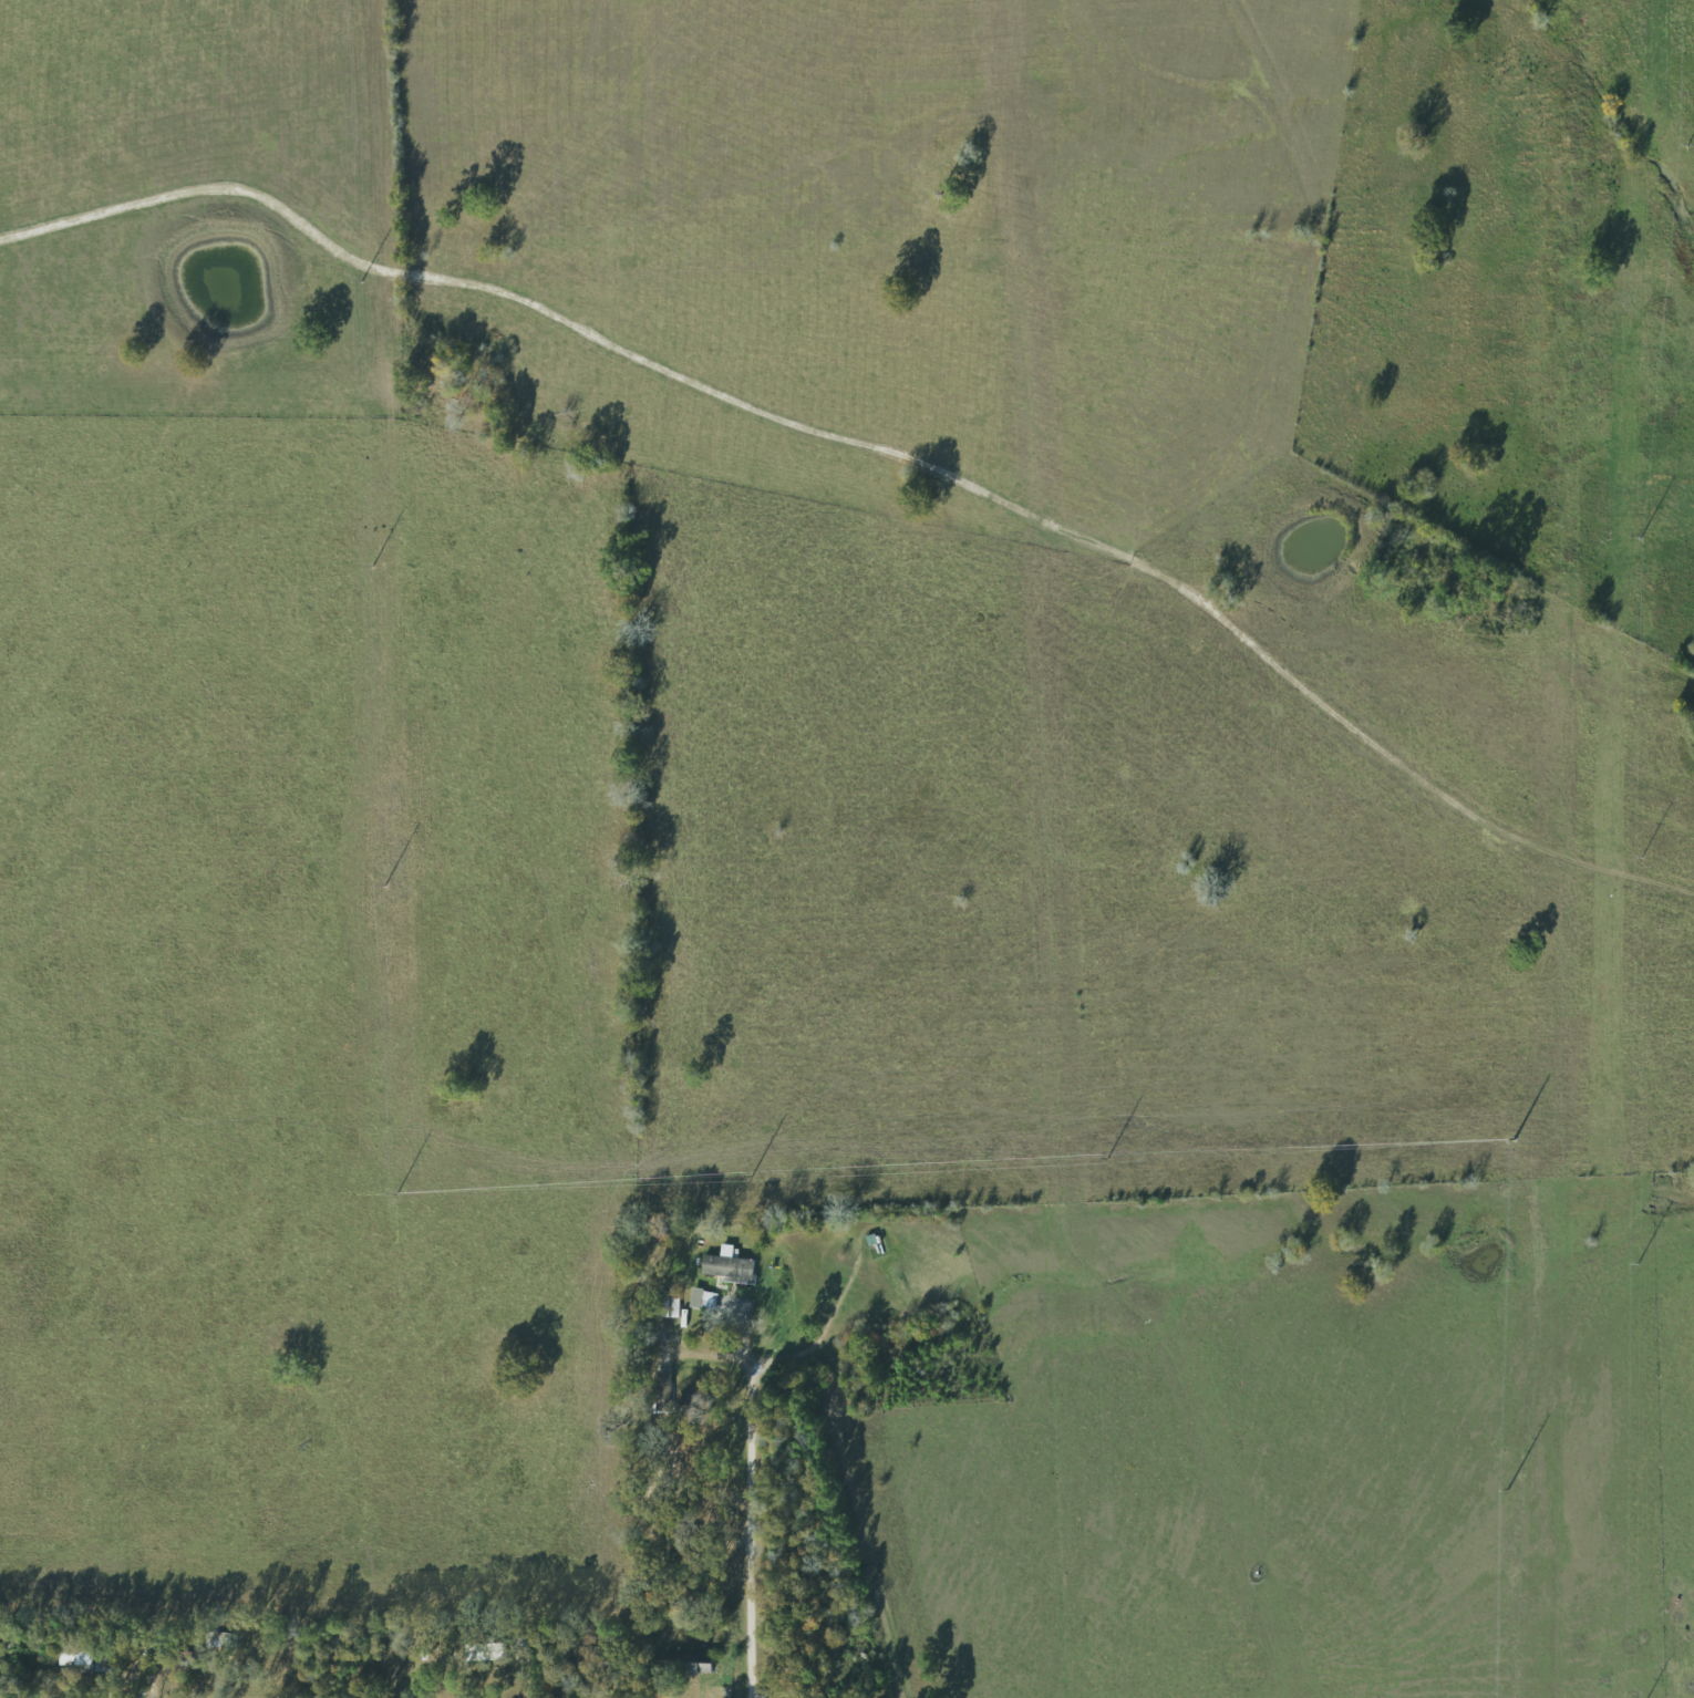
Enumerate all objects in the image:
building: (729, 1269)
road: (746, 1539)

